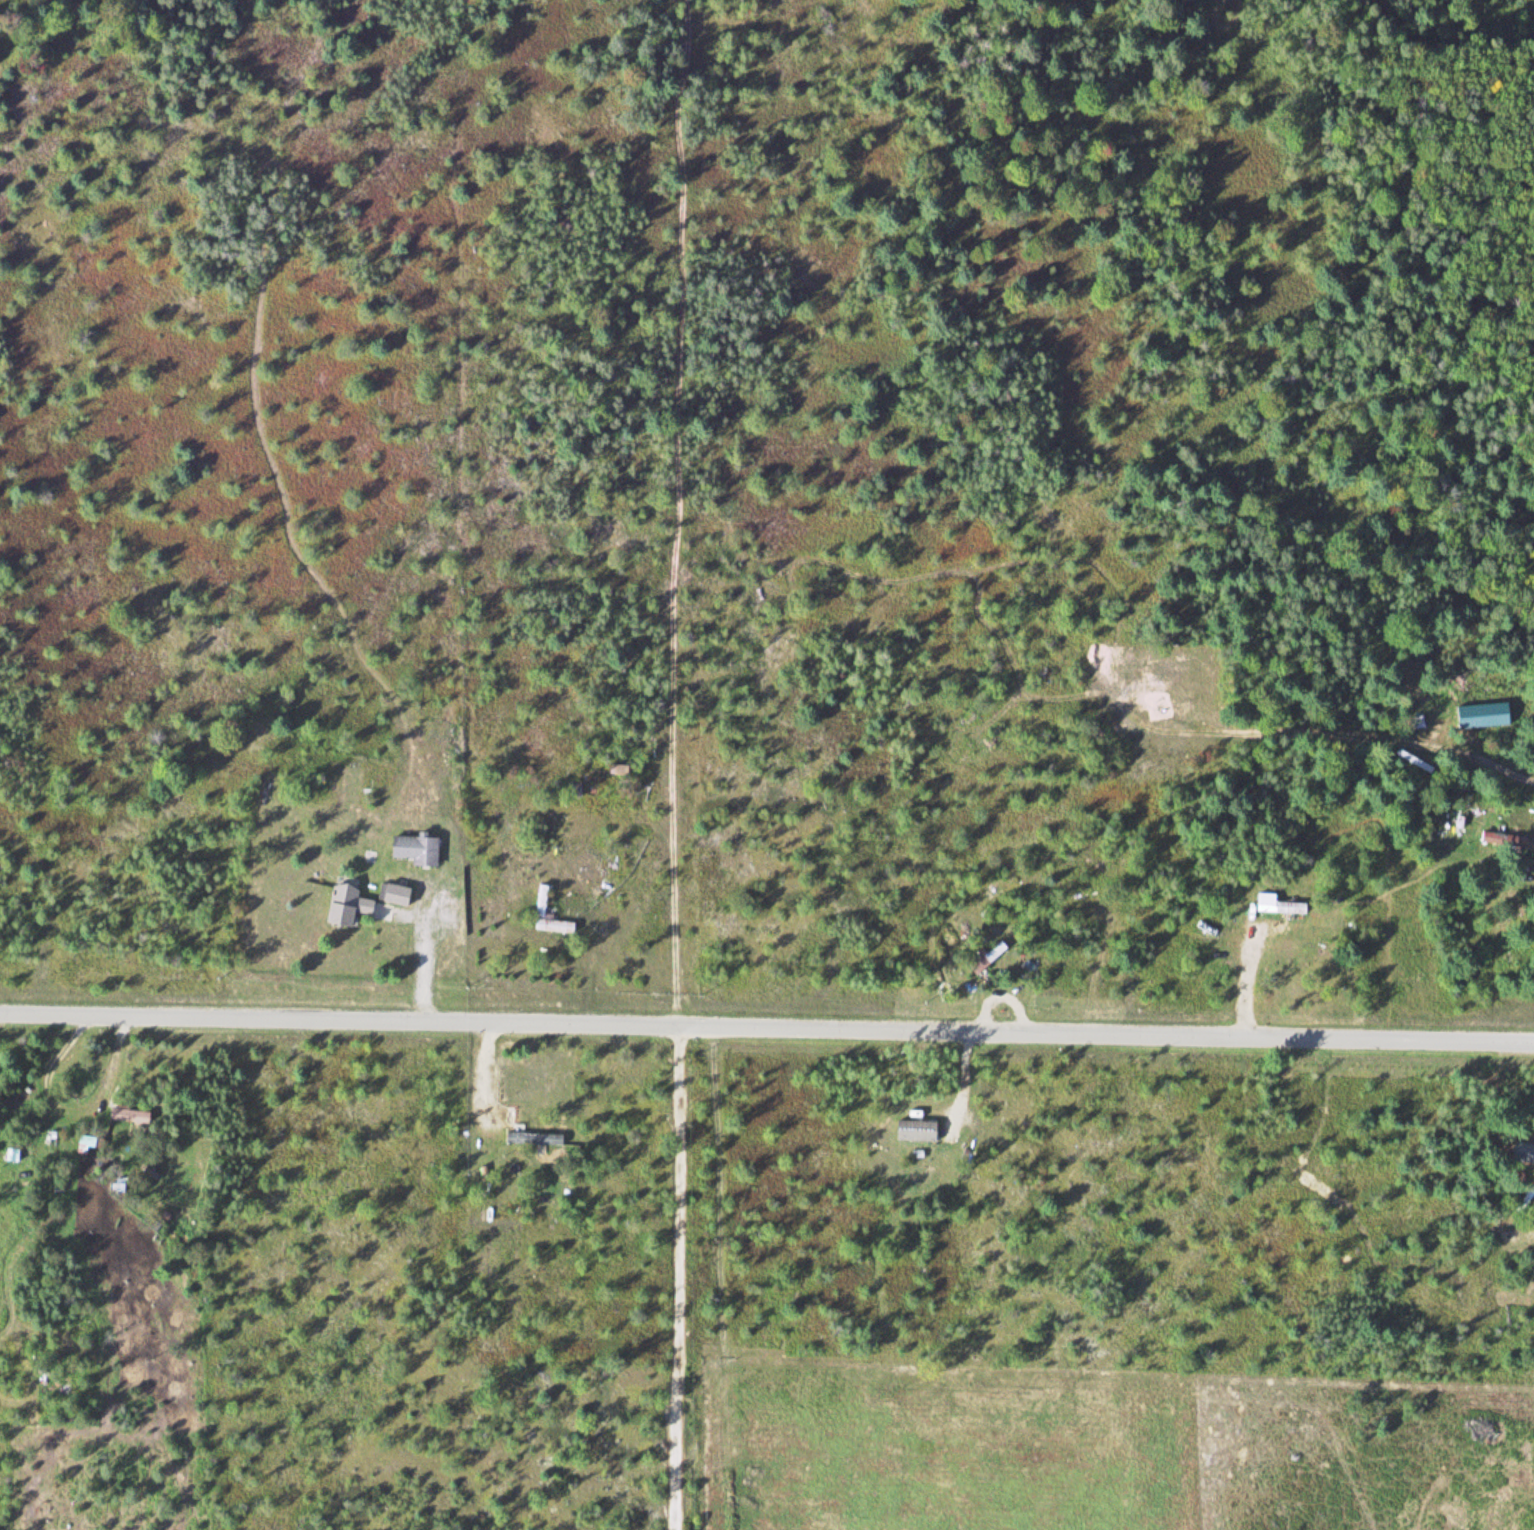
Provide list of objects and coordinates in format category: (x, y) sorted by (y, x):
building: (1415, 722)
building: (618, 770)
building: (1507, 839)
building: (414, 850)
building: (395, 895)
building: (541, 901)
building: (1276, 904)
building: (344, 906)
building: (986, 957)
road: (767, 1031)
building: (127, 1114)
building: (915, 1131)
building: (532, 1138)
building: (12, 1154)
road: (679, 1279)

